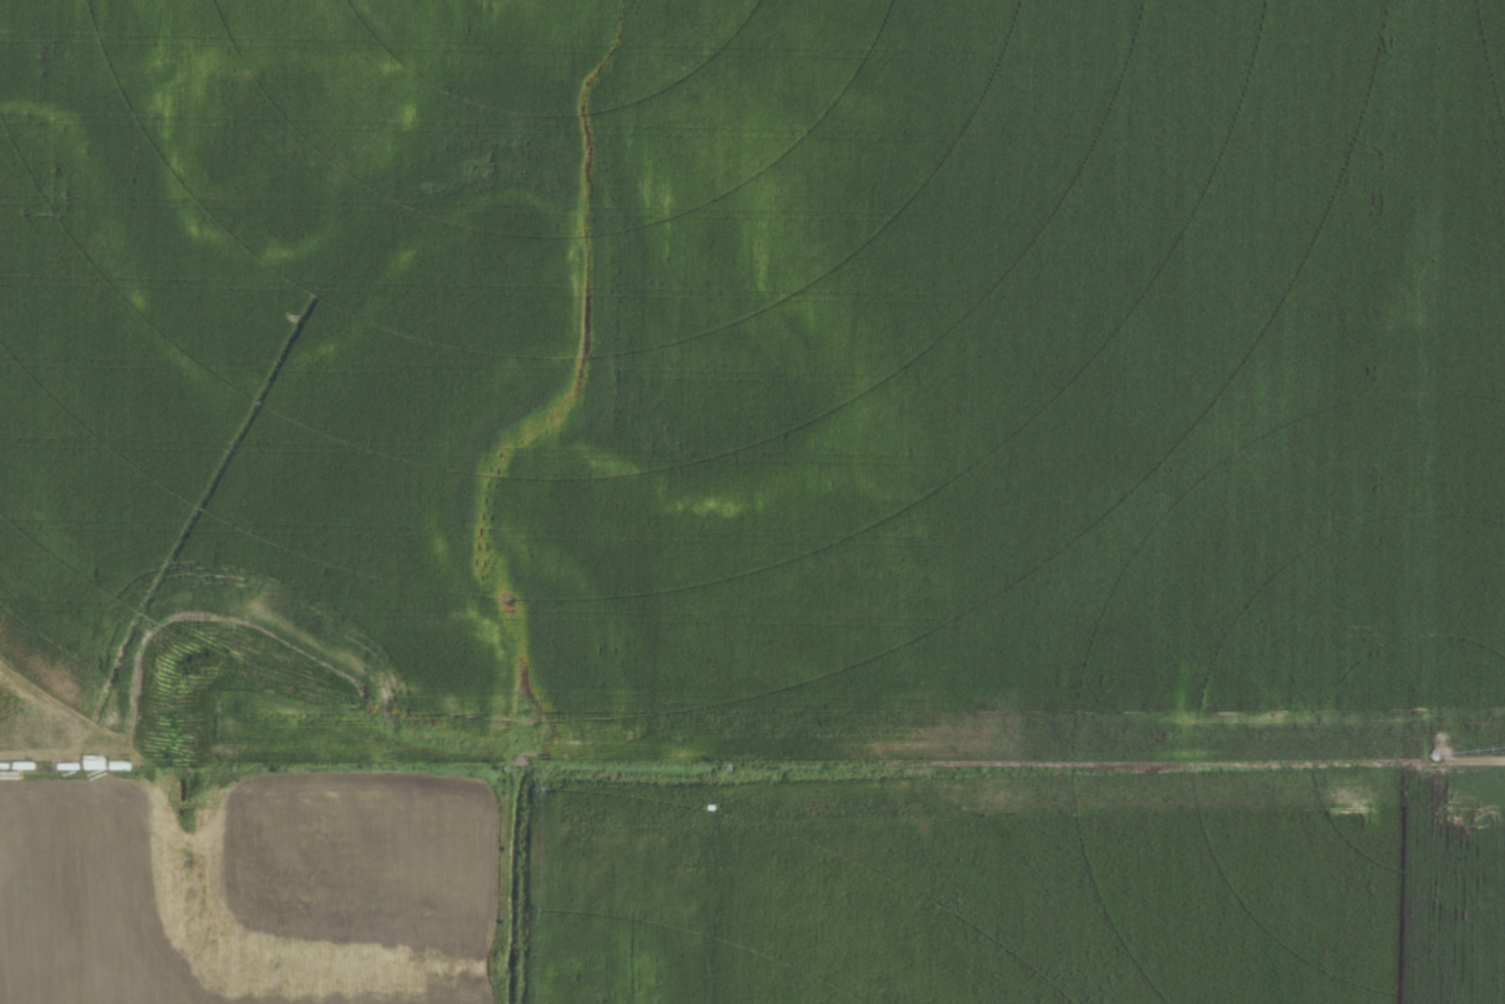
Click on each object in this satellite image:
building: (90, 764)

